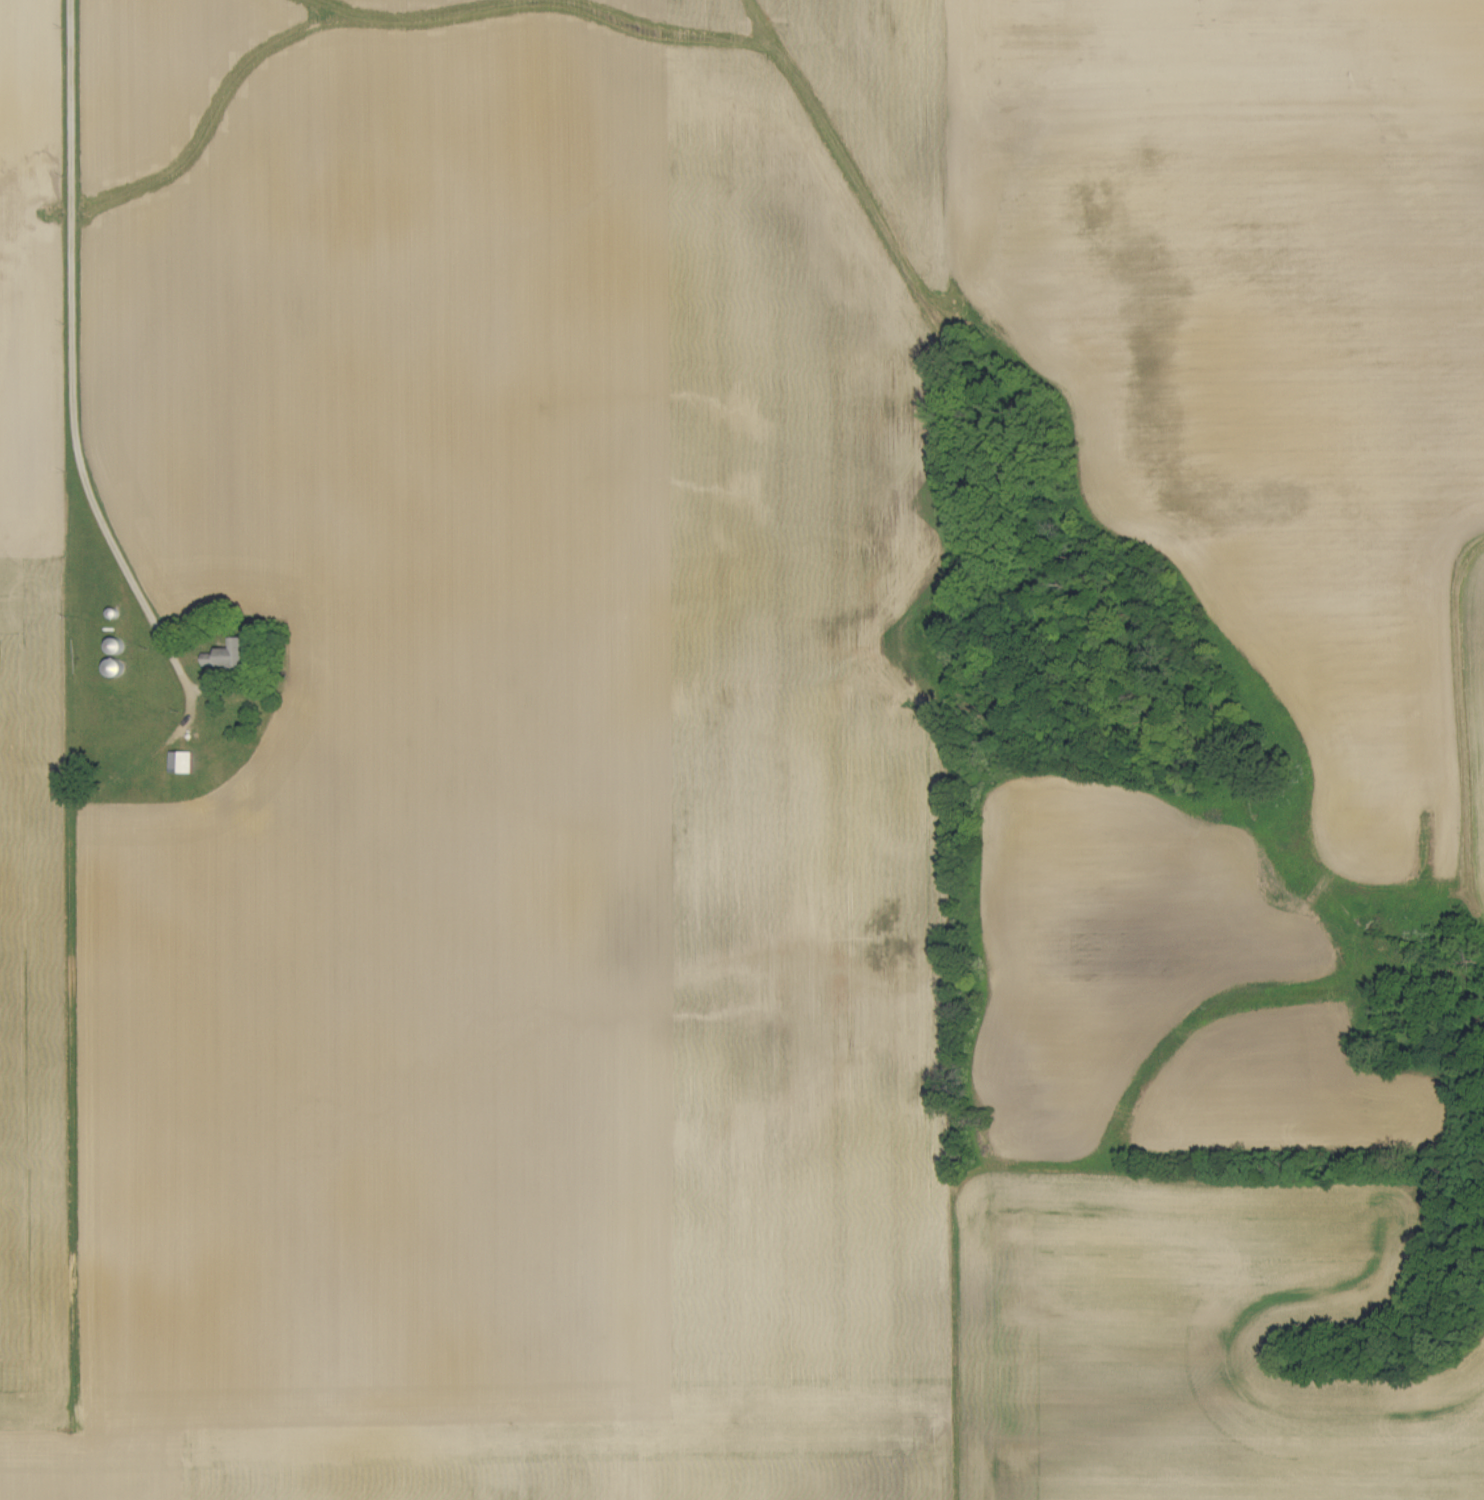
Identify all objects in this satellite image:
road: (69, 361)
building: (228, 657)

